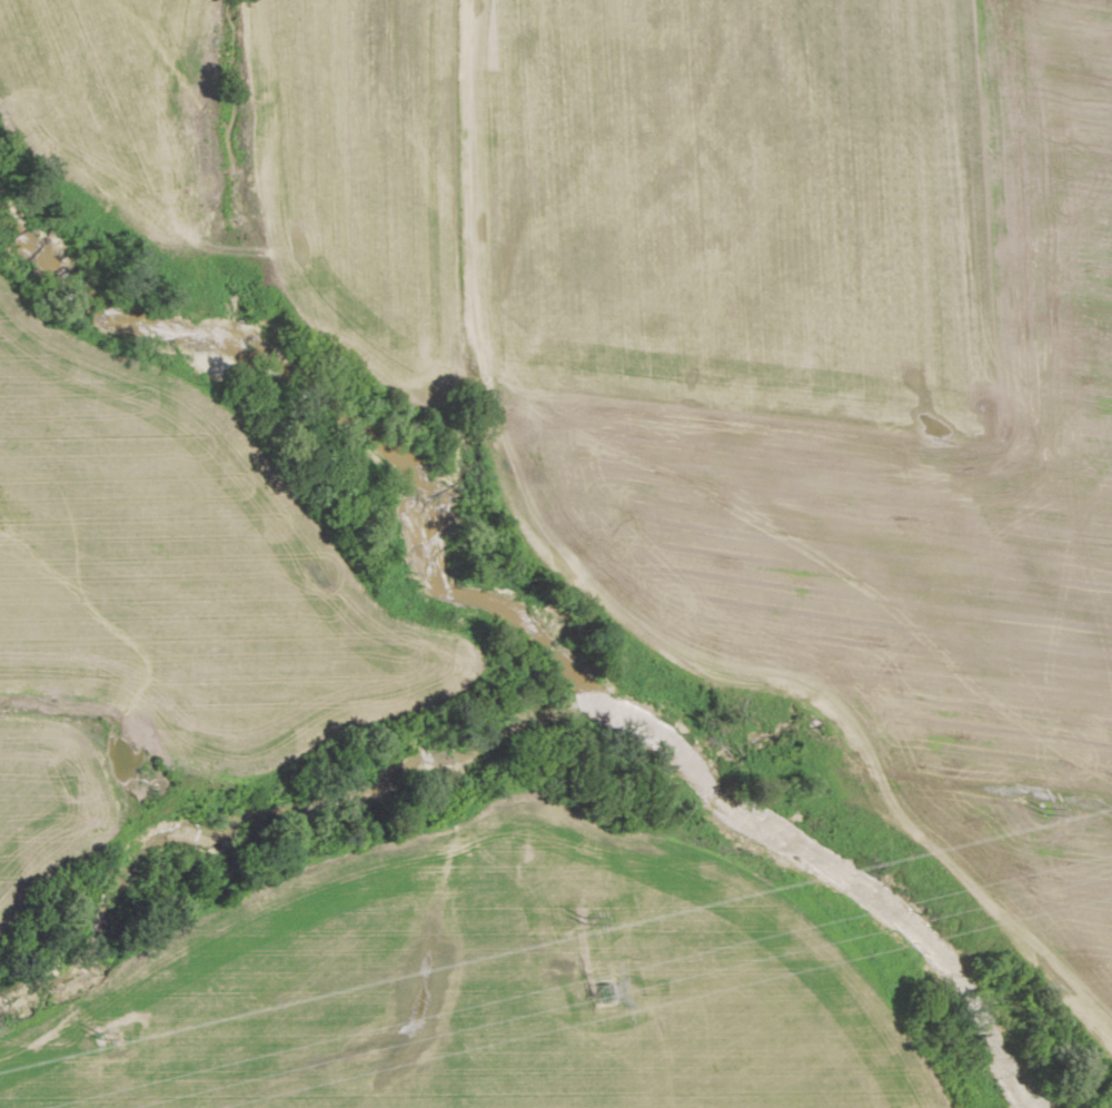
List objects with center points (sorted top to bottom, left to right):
power tower: (607, 983)

